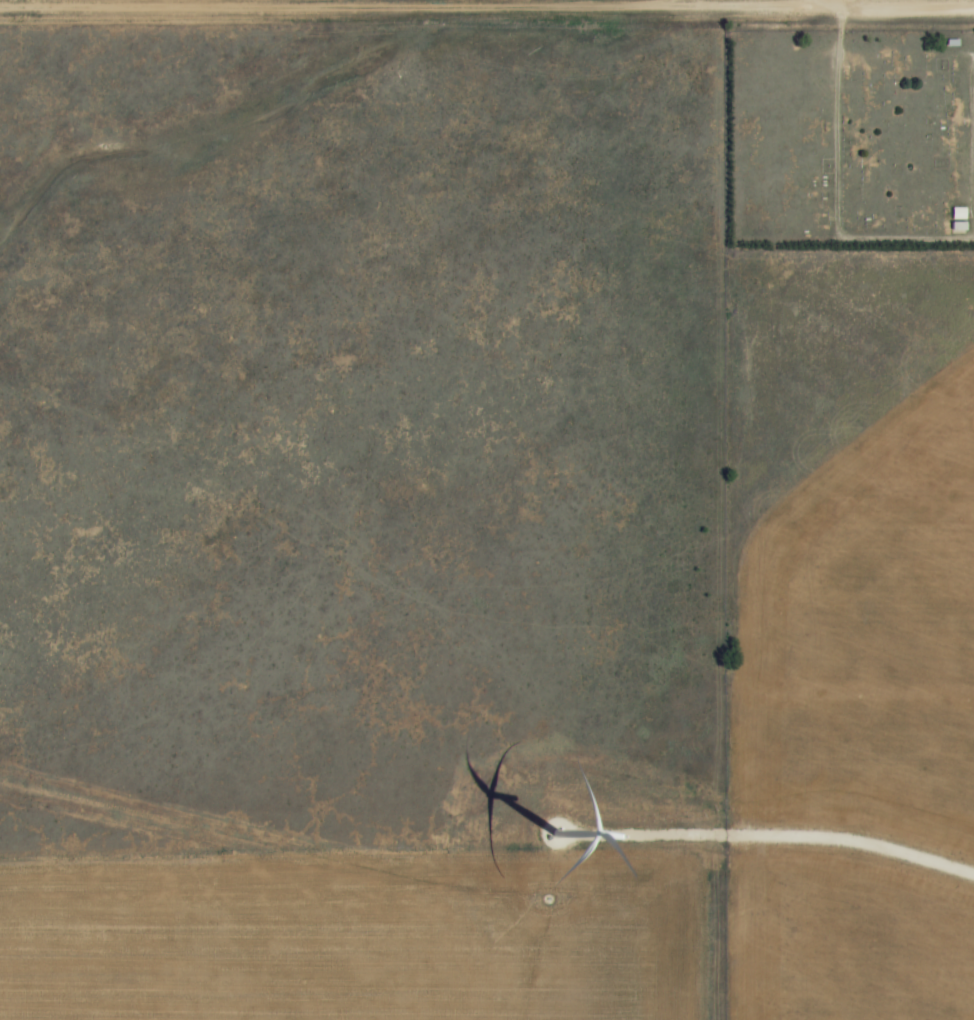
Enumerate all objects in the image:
road: (840, 3)
road: (910, 6)
road: (423, 7)
park: (850, 137)
wind turbine: (553, 834)

